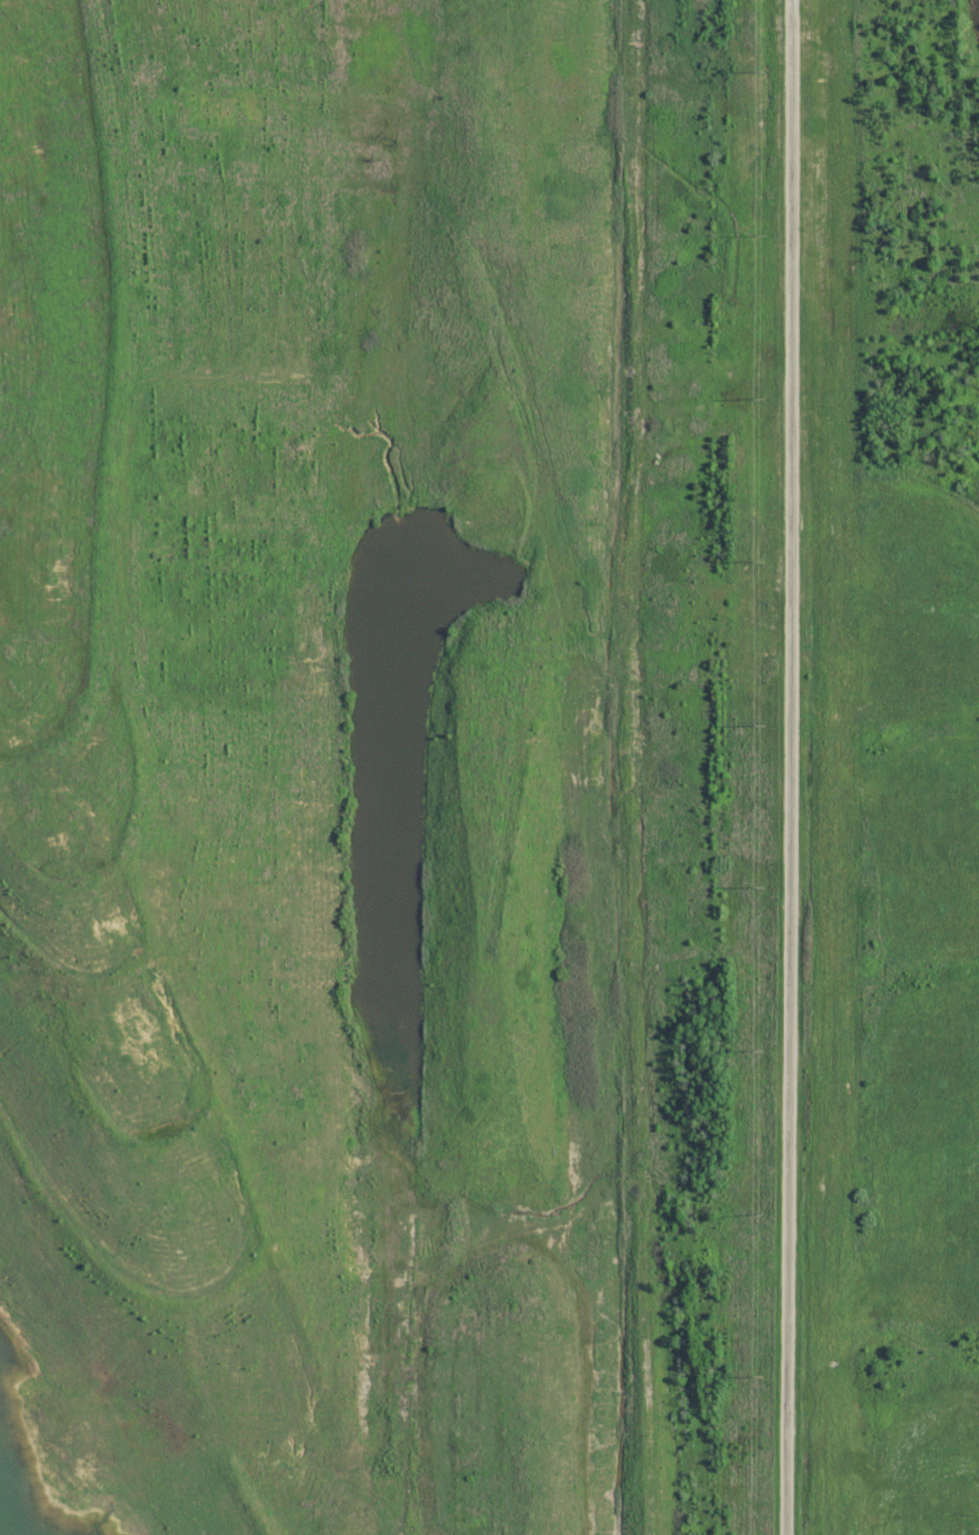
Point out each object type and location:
road: (788, 767)
quarry: (336, 773)

